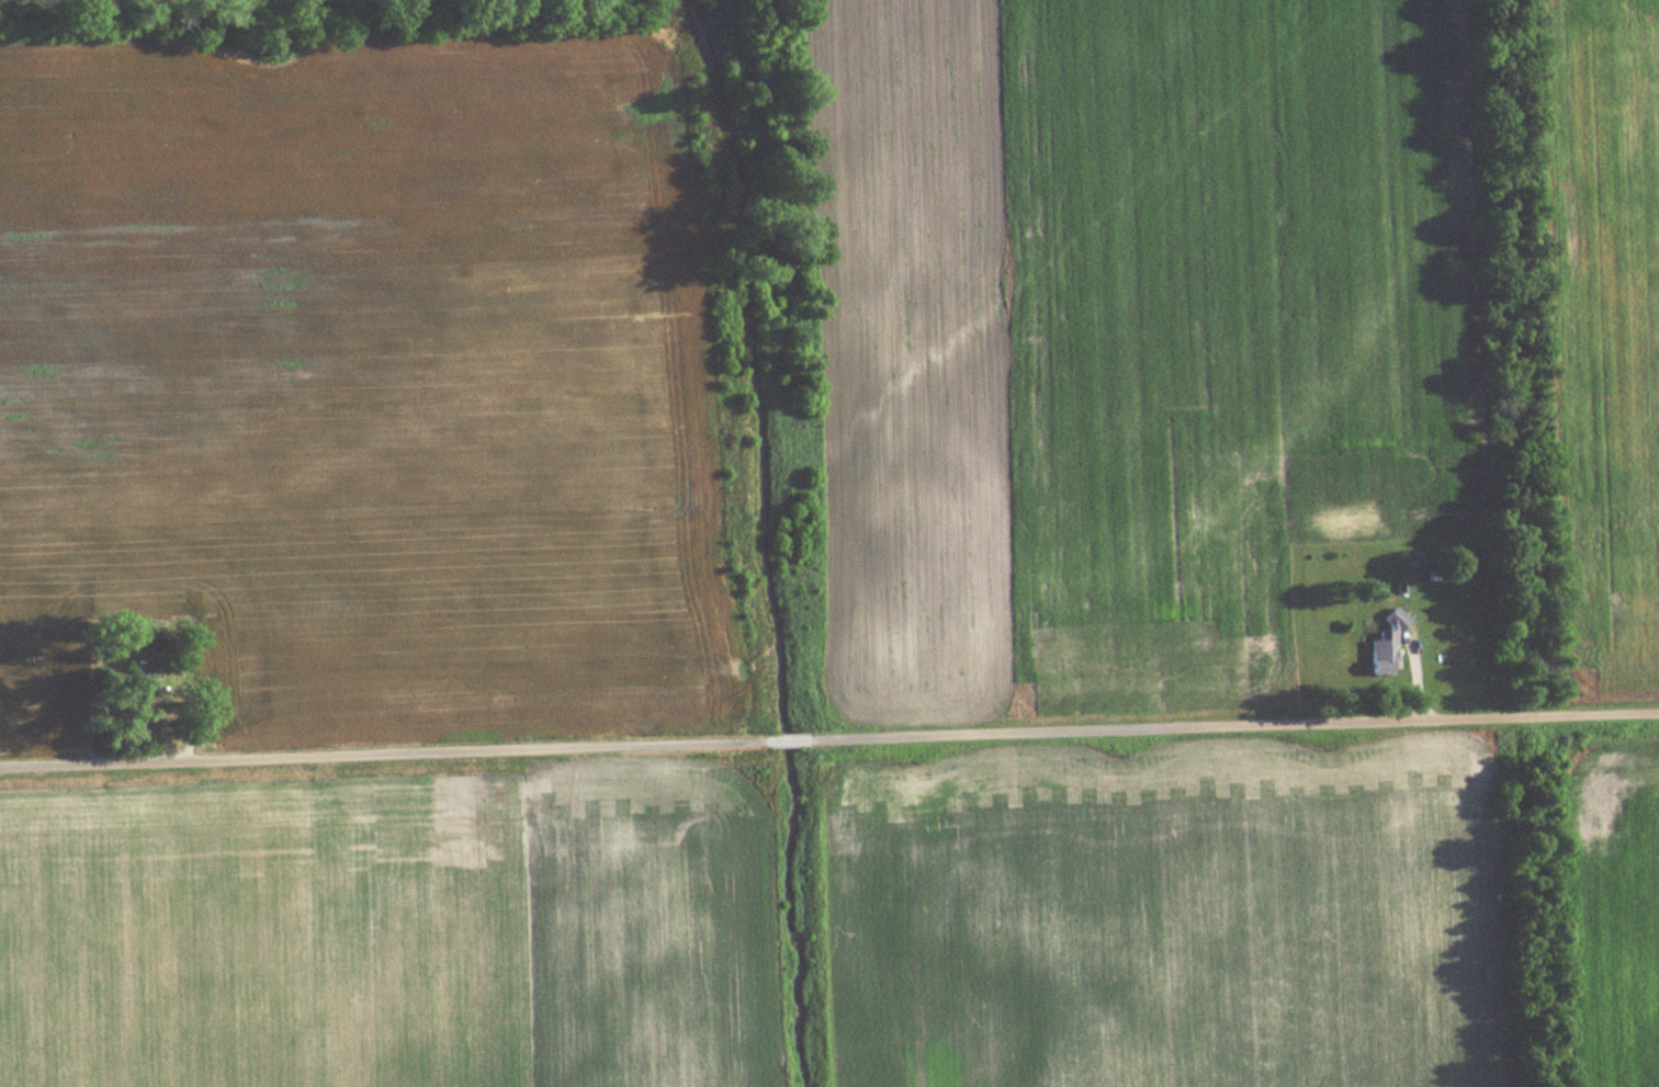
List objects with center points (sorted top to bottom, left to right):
road: (1227, 726)
road: (786, 740)
road: (387, 754)

